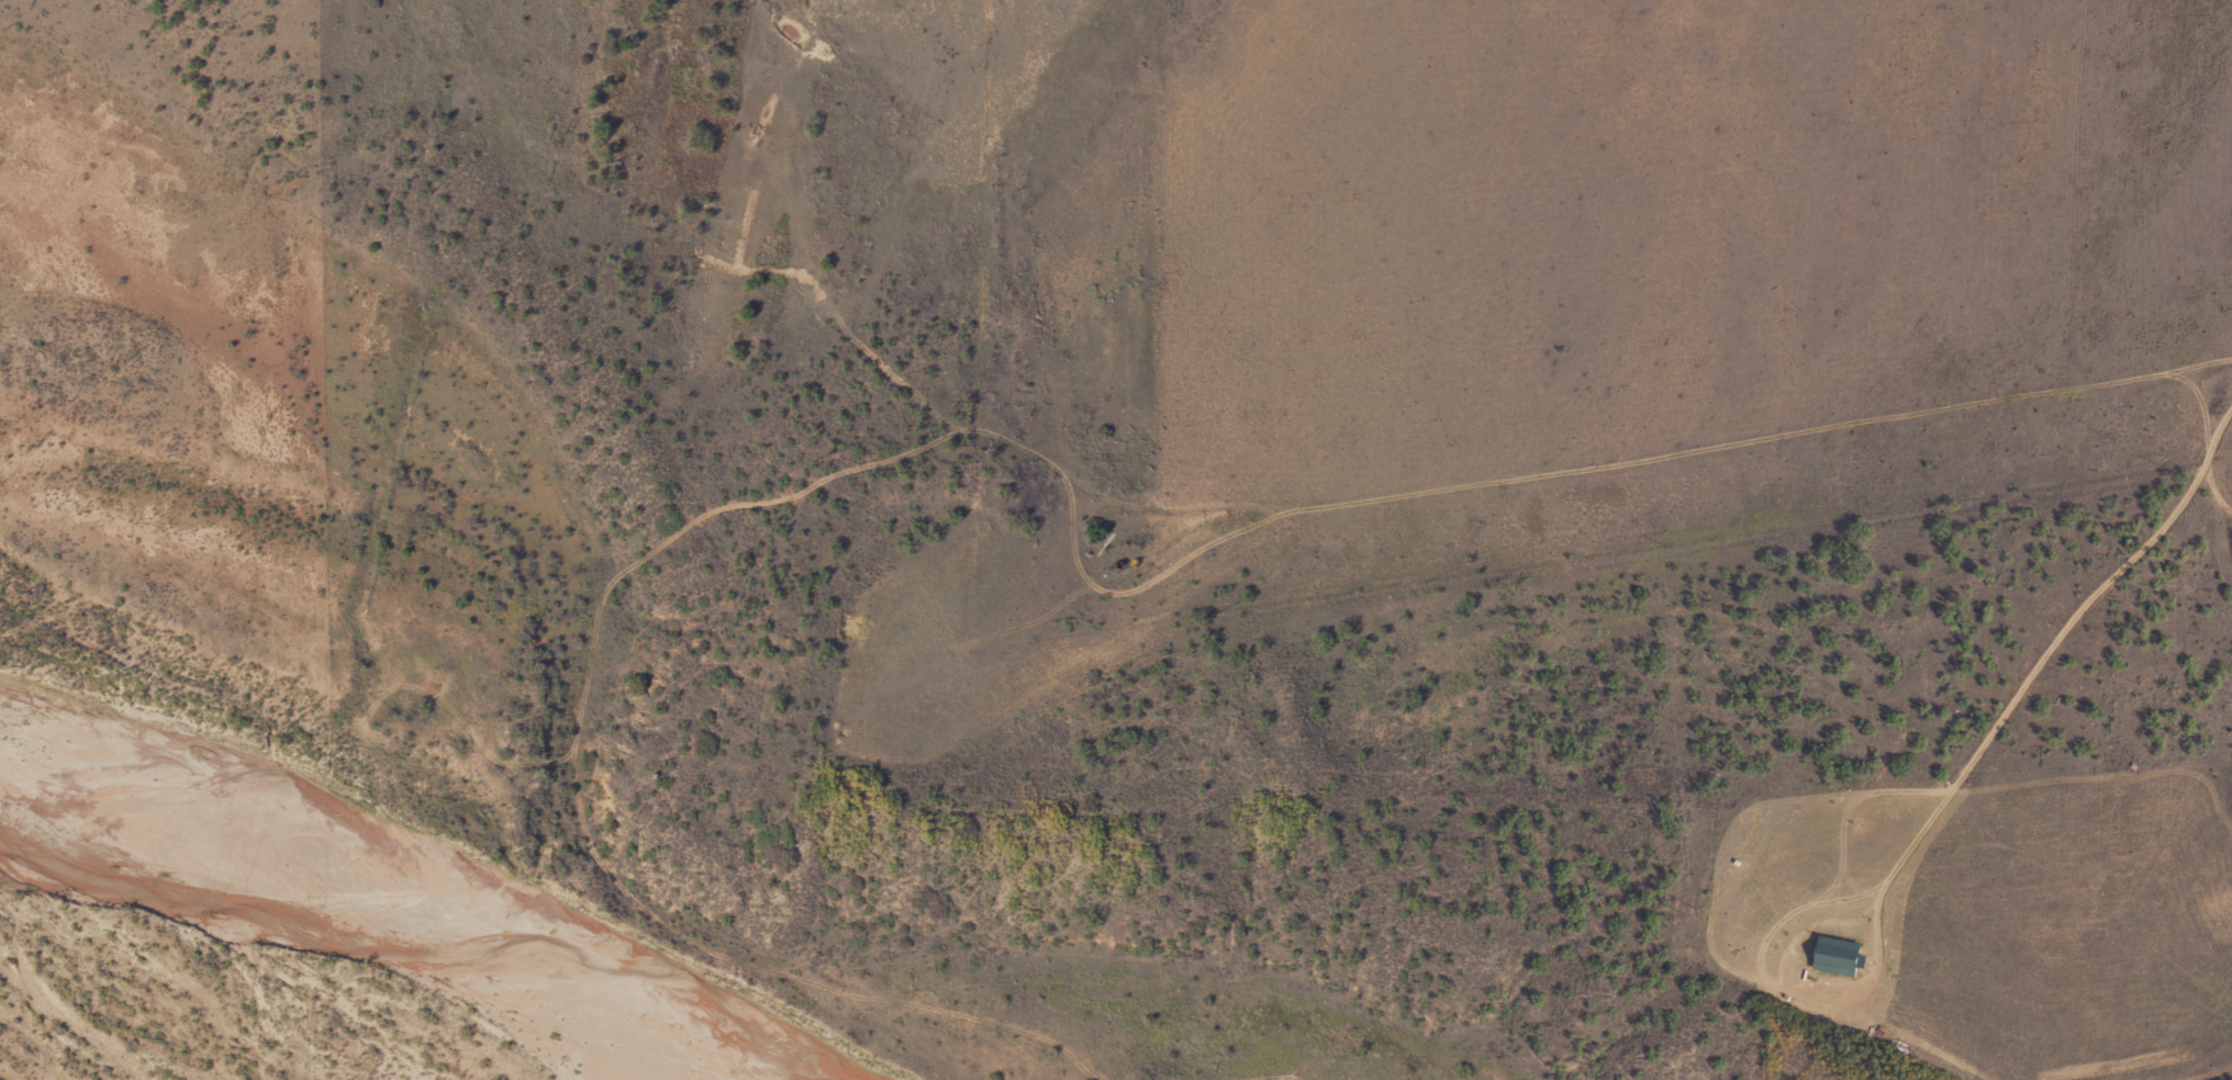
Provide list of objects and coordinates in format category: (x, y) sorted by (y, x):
road: (2219, 430)
road: (1317, 504)
road: (2056, 644)
river: (417, 888)

